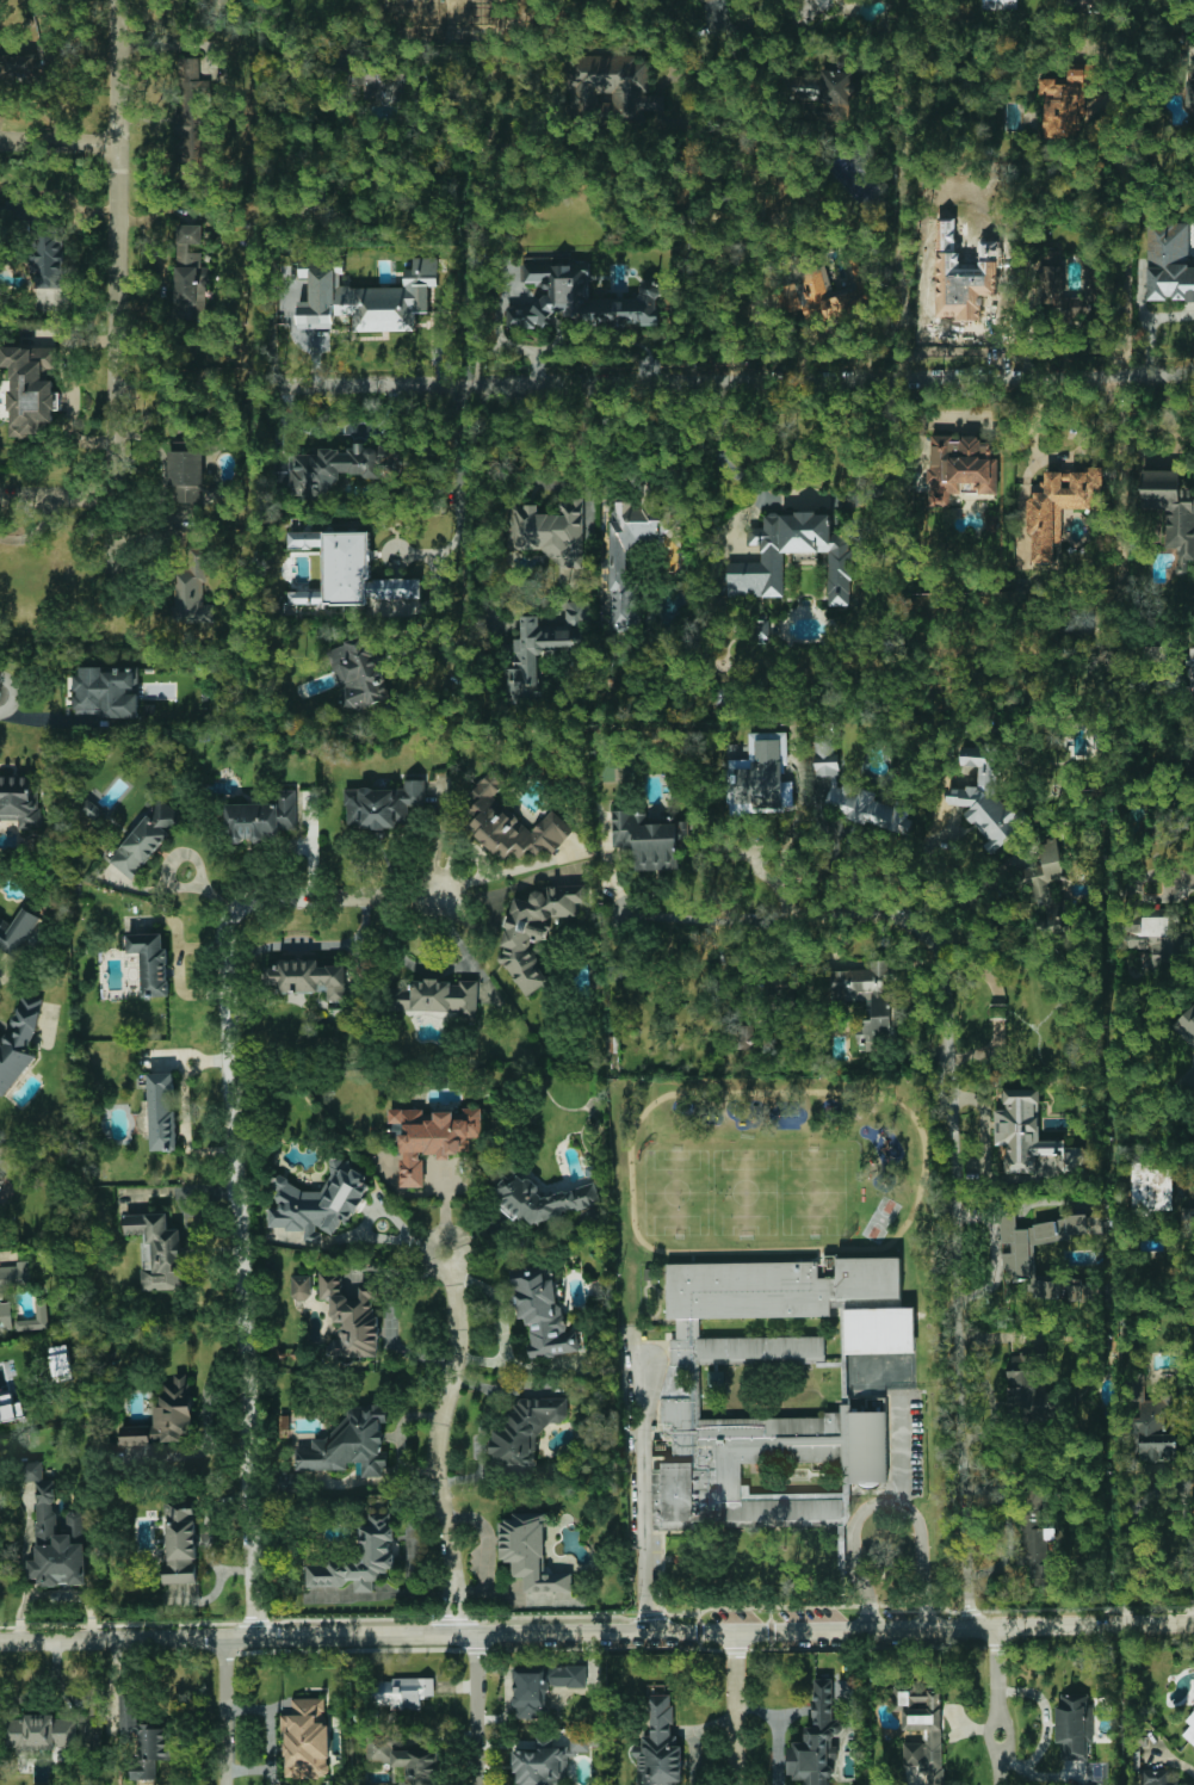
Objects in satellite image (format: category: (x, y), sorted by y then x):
building: (703, 0)
building: (1087, 2)
building: (1000, 4)
road: (375, 14)
building: (27, 63)
building: (341, 75)
building: (612, 84)
building: (1190, 85)
building: (388, 86)
building: (834, 95)
building: (1065, 103)
building: (190, 117)
road: (60, 138)
building: (30, 210)
road: (692, 218)
road: (1127, 248)
building: (47, 257)
building: (1169, 262)
building: (190, 276)
building: (960, 279)
building: (1063, 288)
road: (120, 290)
building: (365, 297)
building: (824, 298)
building: (582, 299)
road: (1151, 323)
road: (738, 379)
road: (203, 388)
building: (30, 389)
building: (960, 468)
building: (332, 469)
building: (186, 475)
road: (58, 492)
road: (815, 501)
road: (482, 504)
building: (1059, 507)
building: (1171, 511)
road: (462, 519)
building: (549, 531)
building: (840, 556)
building: (624, 557)
building: (347, 569)
building: (191, 595)
building: (762, 632)
building: (527, 657)
building: (358, 673)
building: (1190, 678)
building: (106, 692)
building: (1189, 760)
building: (761, 776)
building: (855, 792)
building: (986, 798)
building: (19, 801)
building: (383, 805)
building: (92, 809)
building: (261, 819)
building: (512, 823)
building: (147, 839)
building: (649, 839)
building: (1041, 867)
road: (506, 873)
road: (1186, 878)
building: (1152, 928)
building: (17, 931)
building: (536, 931)
building: (150, 962)
building: (309, 977)
building: (435, 997)
building: (866, 999)
building: (1186, 1026)
building: (746, 1036)
building: (18, 1044)
building: (162, 1111)
road: (949, 1120)
building: (431, 1137)
building: (1028, 1137)
road: (240, 1175)
building: (1147, 1185)
building: (544, 1200)
building: (318, 1203)
building: (1032, 1242)
building: (157, 1250)
building: (17, 1277)
building: (302, 1287)
building: (1047, 1289)
building: (1082, 1291)
building: (41, 1309)
building: (542, 1311)
building: (6, 1316)
building: (351, 1317)
building: (61, 1363)
building: (679, 1381)
building: (1028, 1391)
building: (10, 1408)
building: (166, 1417)
building: (525, 1431)
building: (1156, 1432)
road: (437, 1443)
building: (349, 1445)
road: (899, 1447)
road: (637, 1483)
road: (1167, 1486)
road: (887, 1499)
building: (55, 1534)
building: (180, 1543)
building: (377, 1543)
building: (1033, 1550)
building: (530, 1554)
road: (596, 1631)
road: (996, 1674)
road: (43, 1682)
building: (543, 1686)
building: (403, 1692)
road: (735, 1706)
road: (225, 1707)
road: (476, 1707)
road: (997, 1722)
road: (1046, 1723)
building: (1074, 1725)
building: (1189, 1729)
road: (774, 1731)
building: (51, 1732)
building: (924, 1732)
building: (144, 1738)
building: (307, 1738)
building: (817, 1738)
building: (660, 1746)
building: (404, 1758)
road: (1173, 1758)
building: (551, 1759)
road: (1001, 1768)

